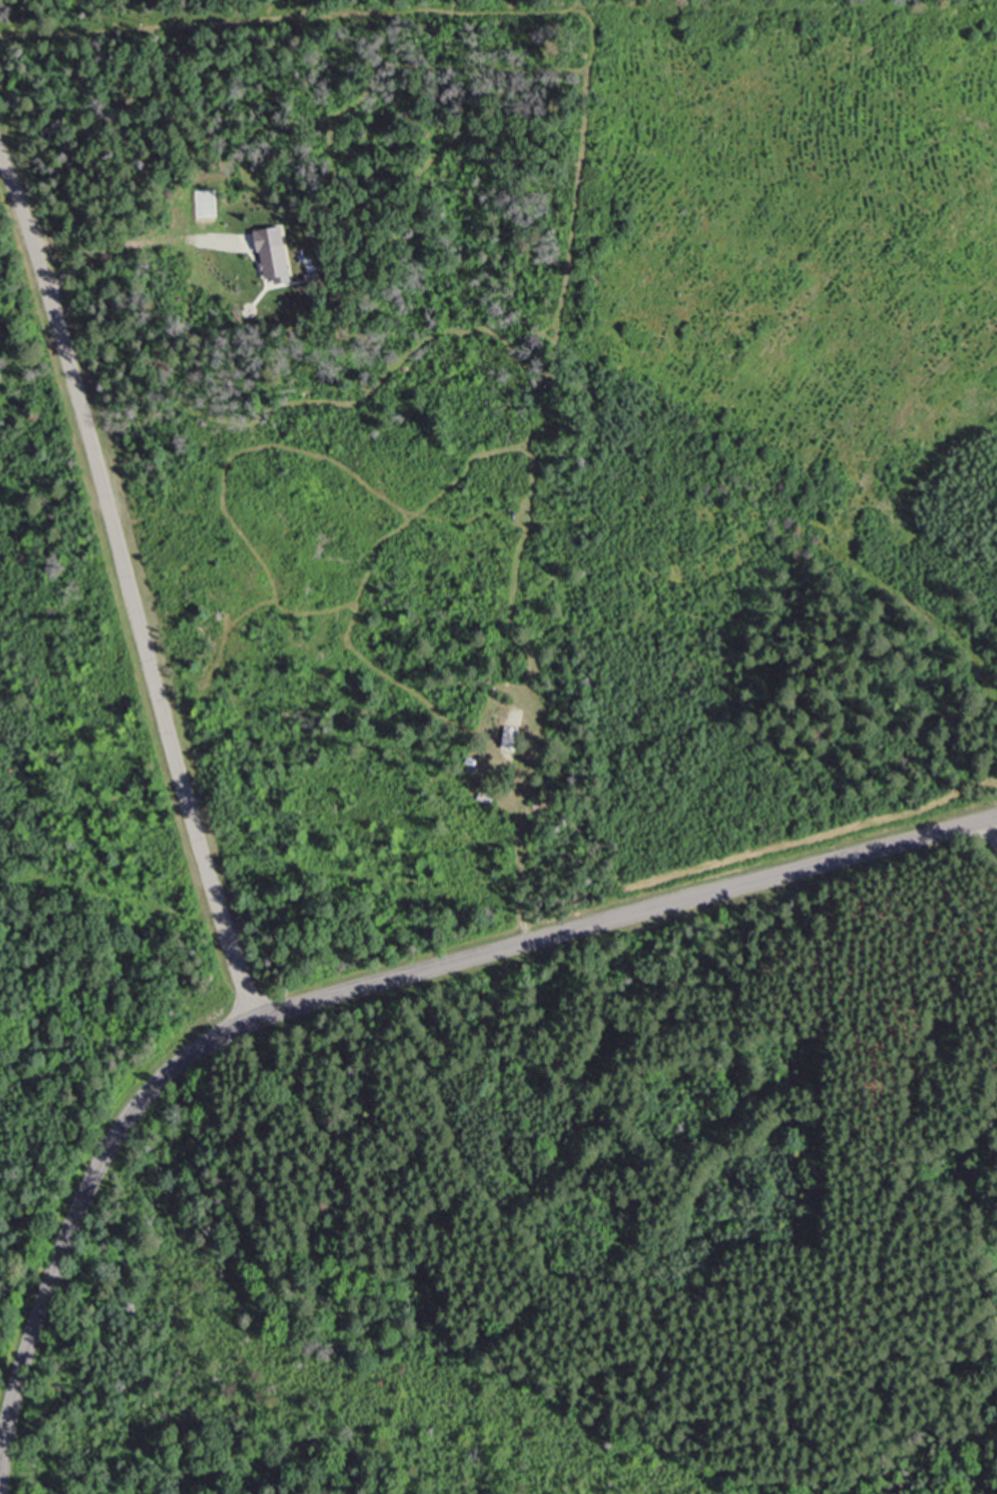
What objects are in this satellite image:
road: (126, 585)
road: (356, 986)

